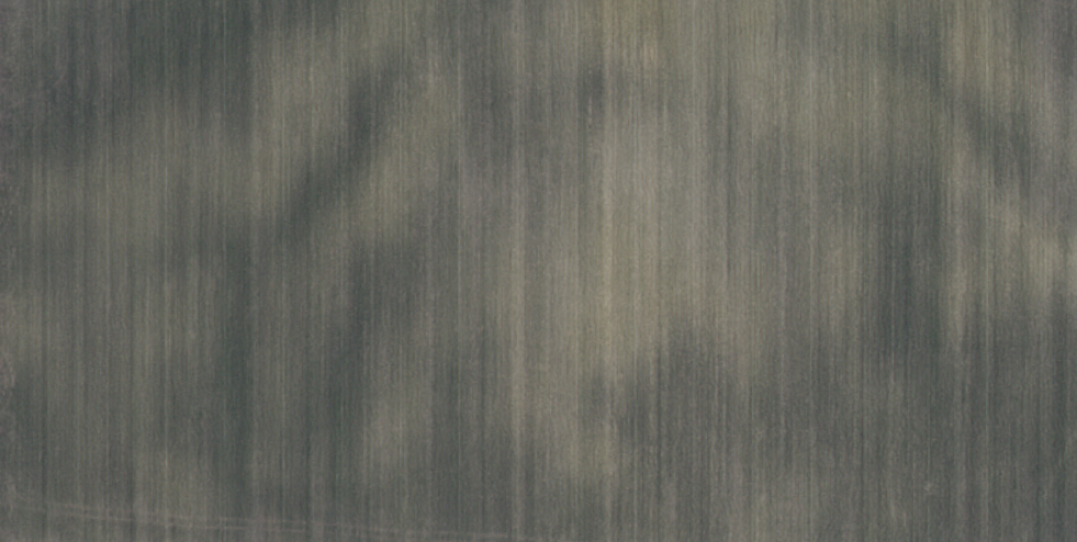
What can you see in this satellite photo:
crop: (538, 271)

